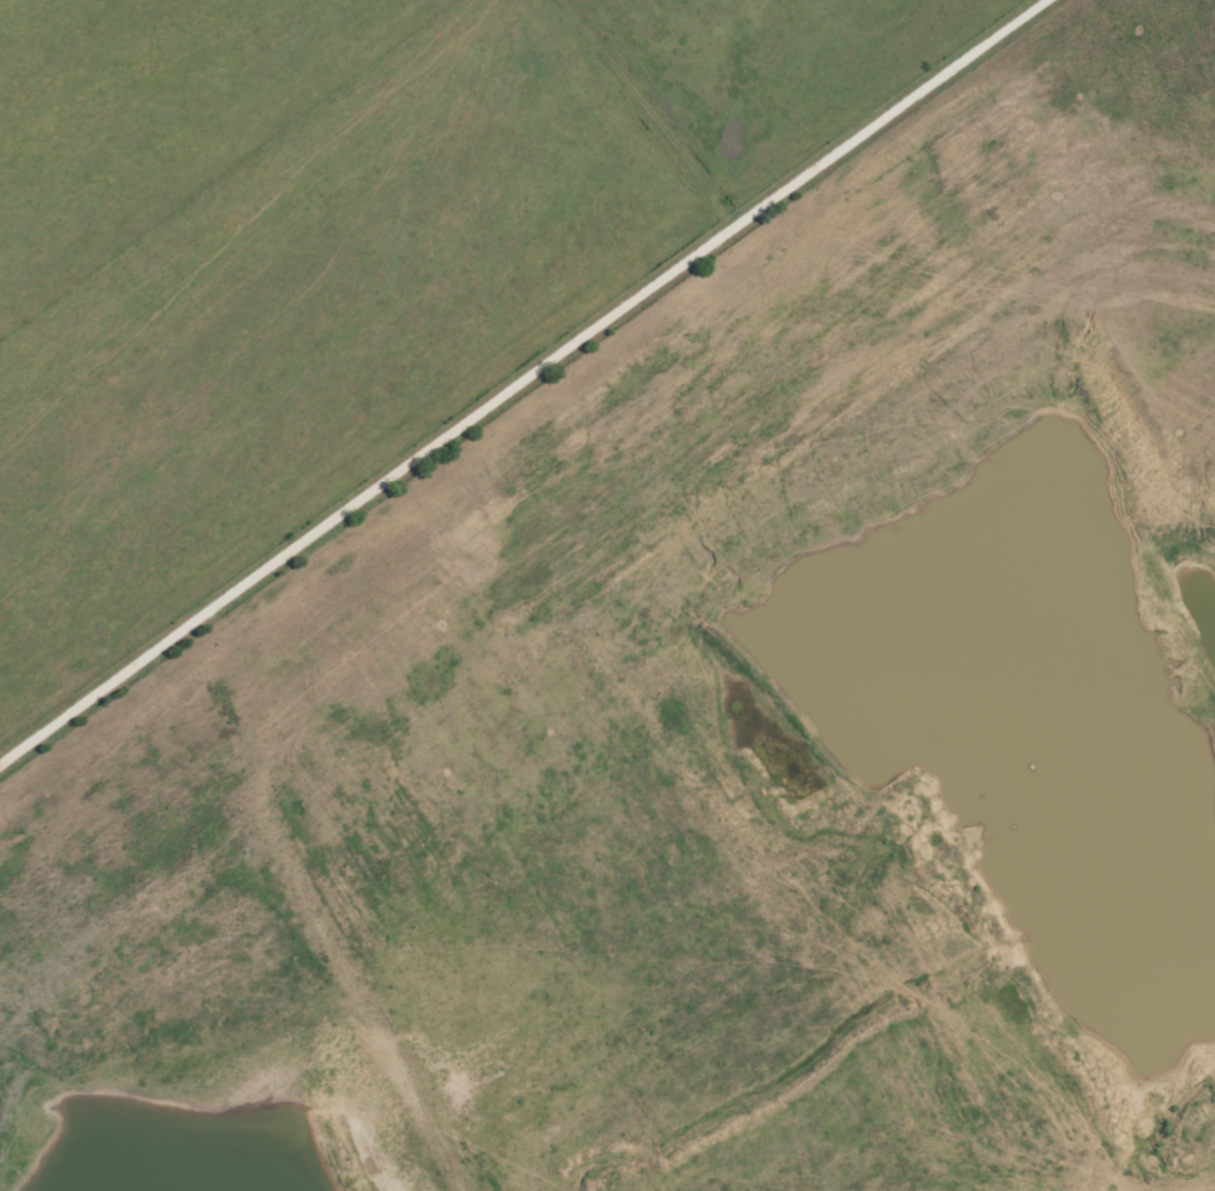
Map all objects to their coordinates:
road: (525, 383)

